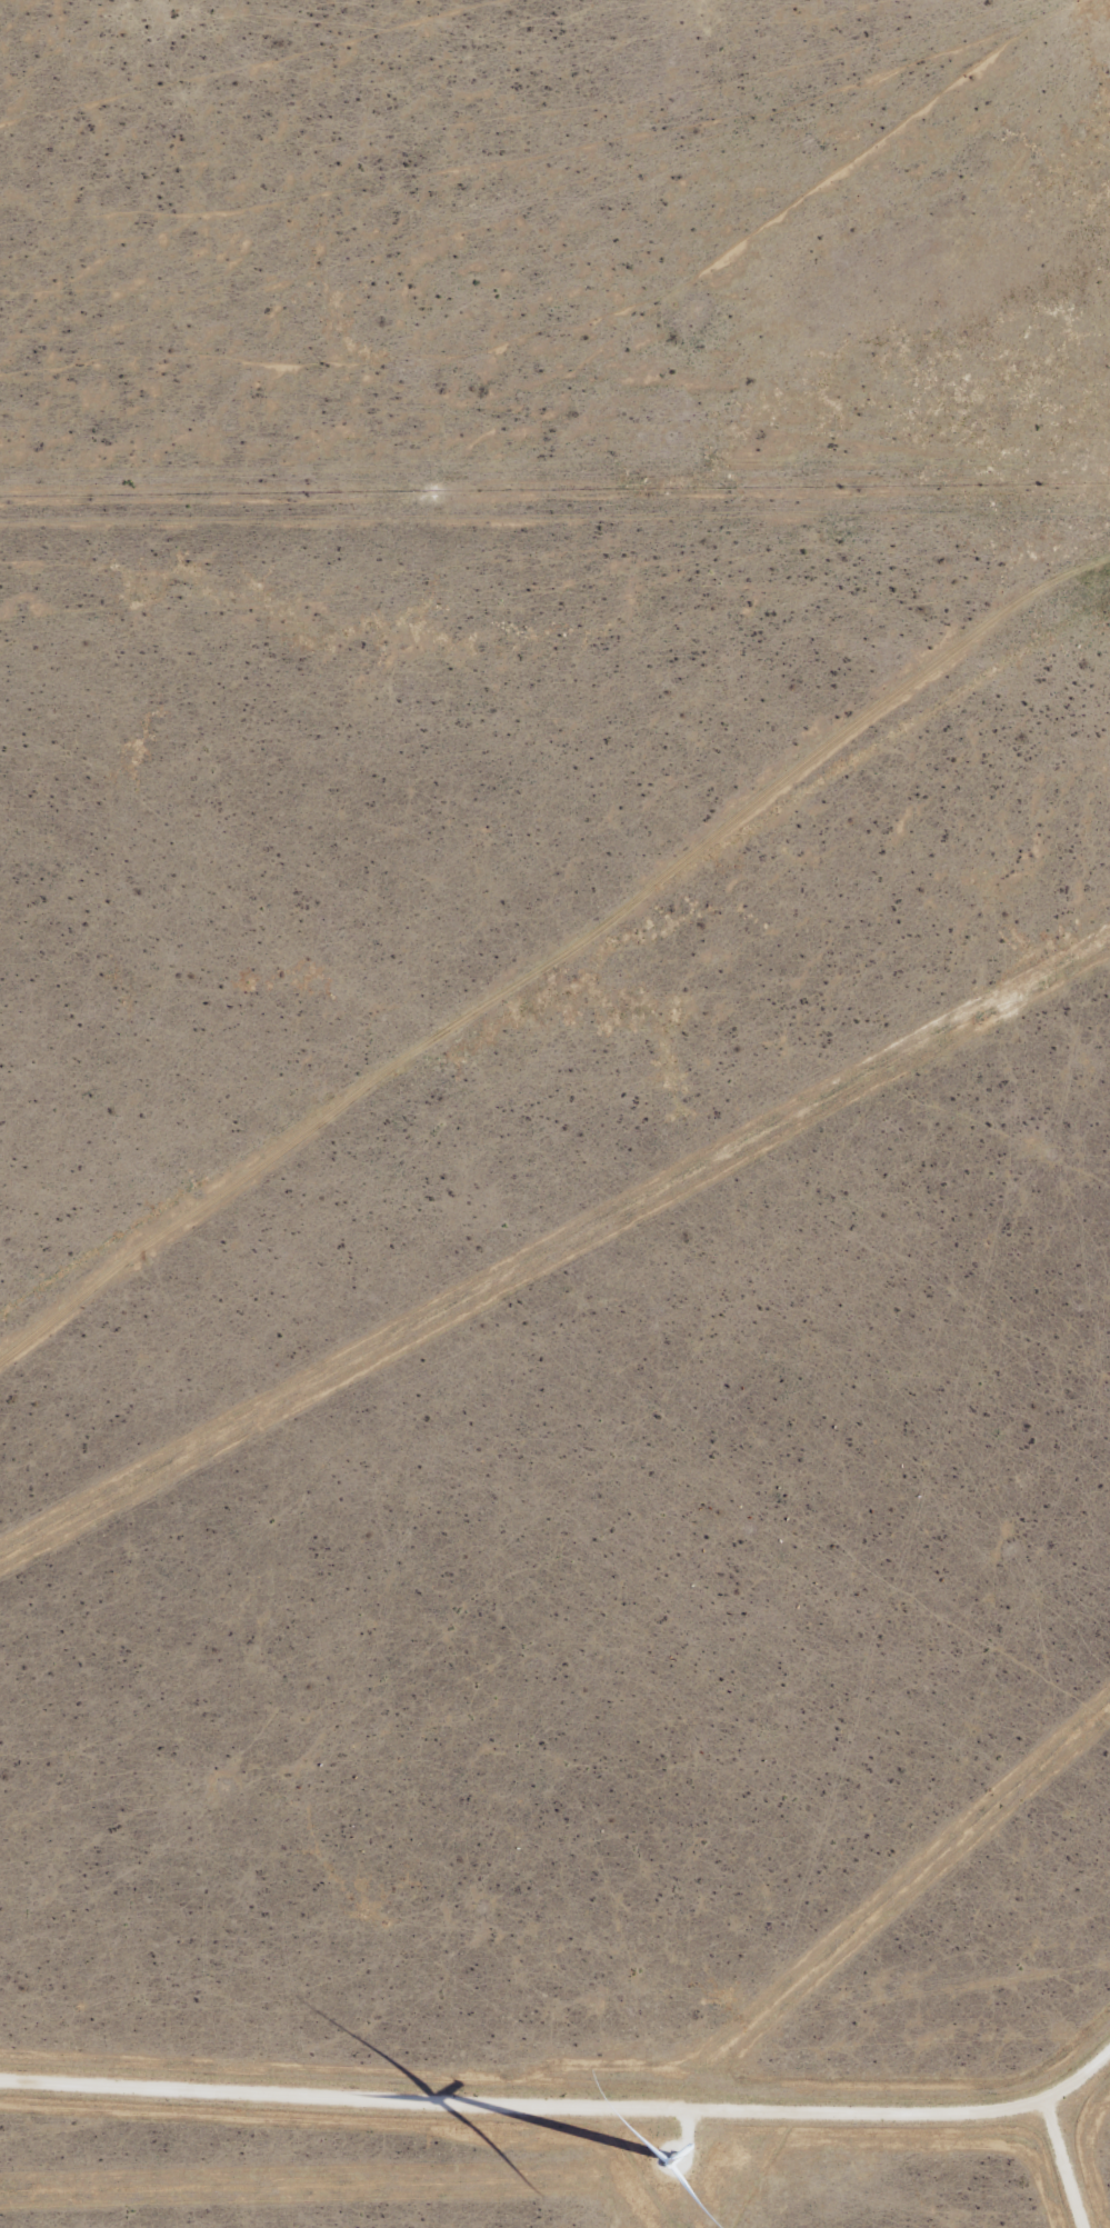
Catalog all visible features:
wind turbine: (670, 2160)

